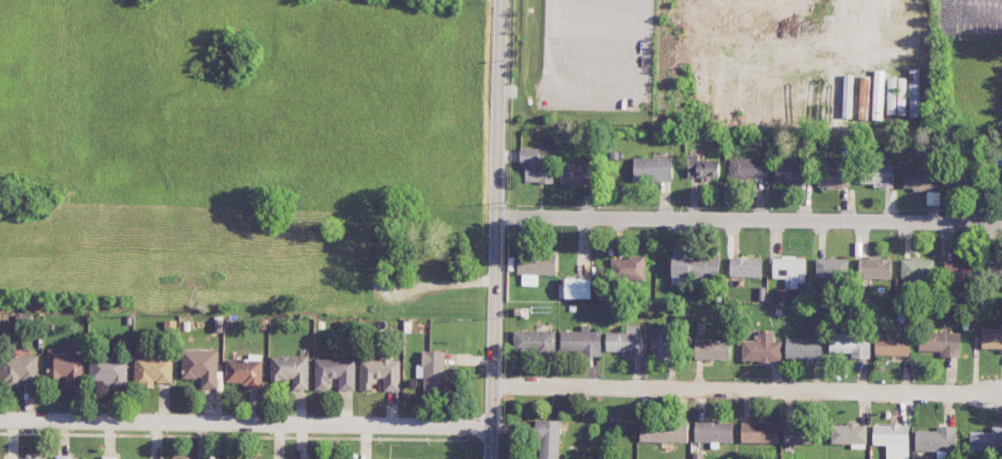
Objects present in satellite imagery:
building: (886, 4)
road: (543, 64)
building: (913, 92)
building: (878, 94)
building: (896, 96)
building: (863, 97)
building: (841, 101)
building: (535, 166)
building: (747, 167)
building: (702, 168)
building: (652, 169)
building: (791, 173)
building: (575, 174)
building: (877, 174)
building: (833, 176)
building: (919, 178)
building: (932, 197)
road: (749, 218)
road: (495, 229)
building: (535, 266)
building: (695, 266)
building: (745, 267)
building: (874, 267)
building: (627, 268)
building: (831, 268)
building: (917, 269)
building: (959, 269)
building: (789, 270)
building: (995, 270)
road: (438, 283)
building: (578, 287)
building: (991, 339)
building: (625, 340)
building: (581, 341)
building: (534, 342)
building: (941, 343)
building: (660, 344)
building: (850, 344)
building: (892, 346)
building: (761, 348)
building: (712, 349)
building: (803, 349)
building: (66, 365)
building: (201, 366)
building: (17, 369)
building: (291, 370)
building: (152, 371)
building: (108, 372)
building: (244, 372)
building: (432, 372)
building: (335, 373)
building: (380, 373)
road: (744, 391)
road: (245, 422)
building: (663, 431)
building: (713, 431)
building: (759, 432)
building: (798, 434)
building: (849, 434)
building: (891, 436)
building: (548, 439)
building: (937, 439)
building: (986, 440)
building: (33, 456)
building: (179, 457)
building: (69, 458)
building: (103, 458)
building: (299, 458)

